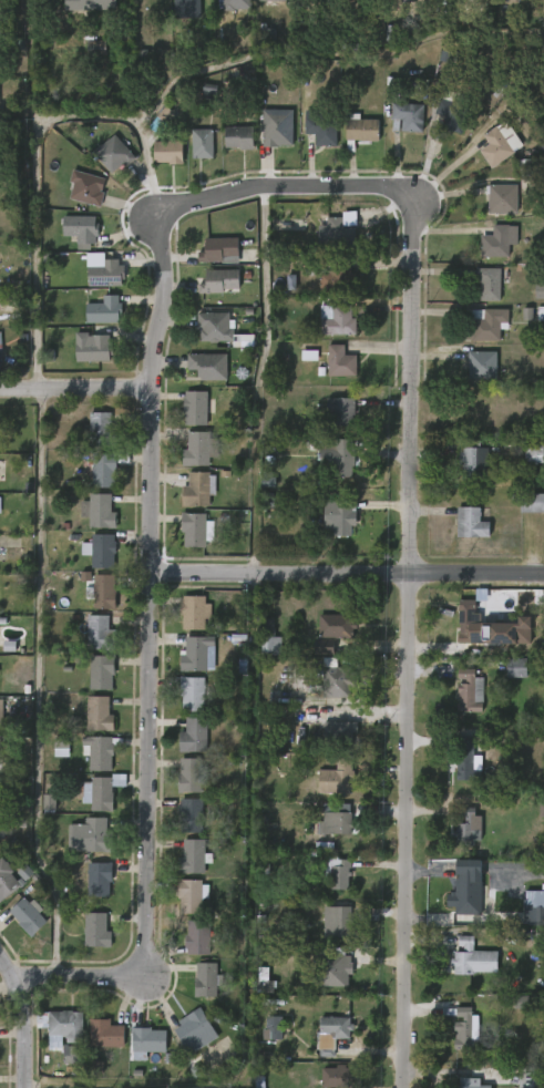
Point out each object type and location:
building: (318, 0)
building: (406, 0)
building: (187, 2)
building: (273, 2)
building: (100, 4)
building: (236, 4)
building: (365, 4)
building: (391, 33)
building: (96, 48)
road: (332, 54)
building: (450, 114)
building: (407, 116)
building: (277, 127)
building: (320, 130)
building: (360, 131)
building: (242, 137)
building: (202, 144)
building: (495, 147)
building: (168, 153)
building: (113, 155)
road: (35, 158)
building: (86, 188)
building: (500, 197)
road: (253, 202)
building: (84, 228)
building: (339, 229)
building: (499, 242)
building: (219, 248)
building: (104, 274)
building: (336, 274)
building: (219, 279)
building: (490, 284)
building: (538, 290)
building: (104, 310)
building: (541, 314)
building: (337, 319)
building: (489, 325)
building: (215, 326)
building: (92, 348)
building: (0, 355)
building: (309, 356)
building: (341, 361)
building: (482, 365)
building: (208, 366)
road: (70, 400)
building: (197, 407)
building: (342, 409)
building: (104, 430)
building: (199, 449)
building: (533, 451)
building: (474, 458)
building: (342, 461)
building: (106, 470)
building: (198, 489)
building: (532, 502)
building: (0, 504)
building: (99, 511)
building: (341, 516)
building: (471, 522)
building: (194, 528)
building: (102, 551)
road: (340, 573)
building: (103, 592)
building: (196, 612)
building: (469, 623)
building: (337, 625)
road: (397, 632)
building: (100, 633)
building: (270, 641)
building: (198, 654)
building: (517, 667)
building: (101, 671)
road: (135, 678)
building: (336, 679)
building: (470, 690)
building: (195, 694)
road: (37, 697)
building: (99, 714)
building: (1, 716)
building: (338, 732)
building: (197, 736)
building: (61, 747)
building: (100, 751)
building: (464, 757)
building: (193, 776)
building: (337, 777)
building: (0, 787)
building: (99, 792)
building: (193, 814)
building: (336, 823)
building: (464, 825)
building: (1, 833)
building: (90, 835)
building: (195, 856)
building: (338, 873)
building: (12, 879)
building: (99, 880)
building: (465, 887)
building: (194, 895)
building: (534, 899)
building: (533, 913)
building: (29, 915)
building: (340, 921)
building: (99, 932)
building: (201, 936)
building: (470, 957)
building: (339, 969)
building: (205, 981)
building: (193, 1028)
building: (273, 1028)
building: (462, 1028)
building: (69, 1033)
building: (105, 1034)
building: (332, 1034)
building: (147, 1040)
road: (11, 1044)
building: (336, 1077)
building: (530, 1078)
building: (466, 1084)

